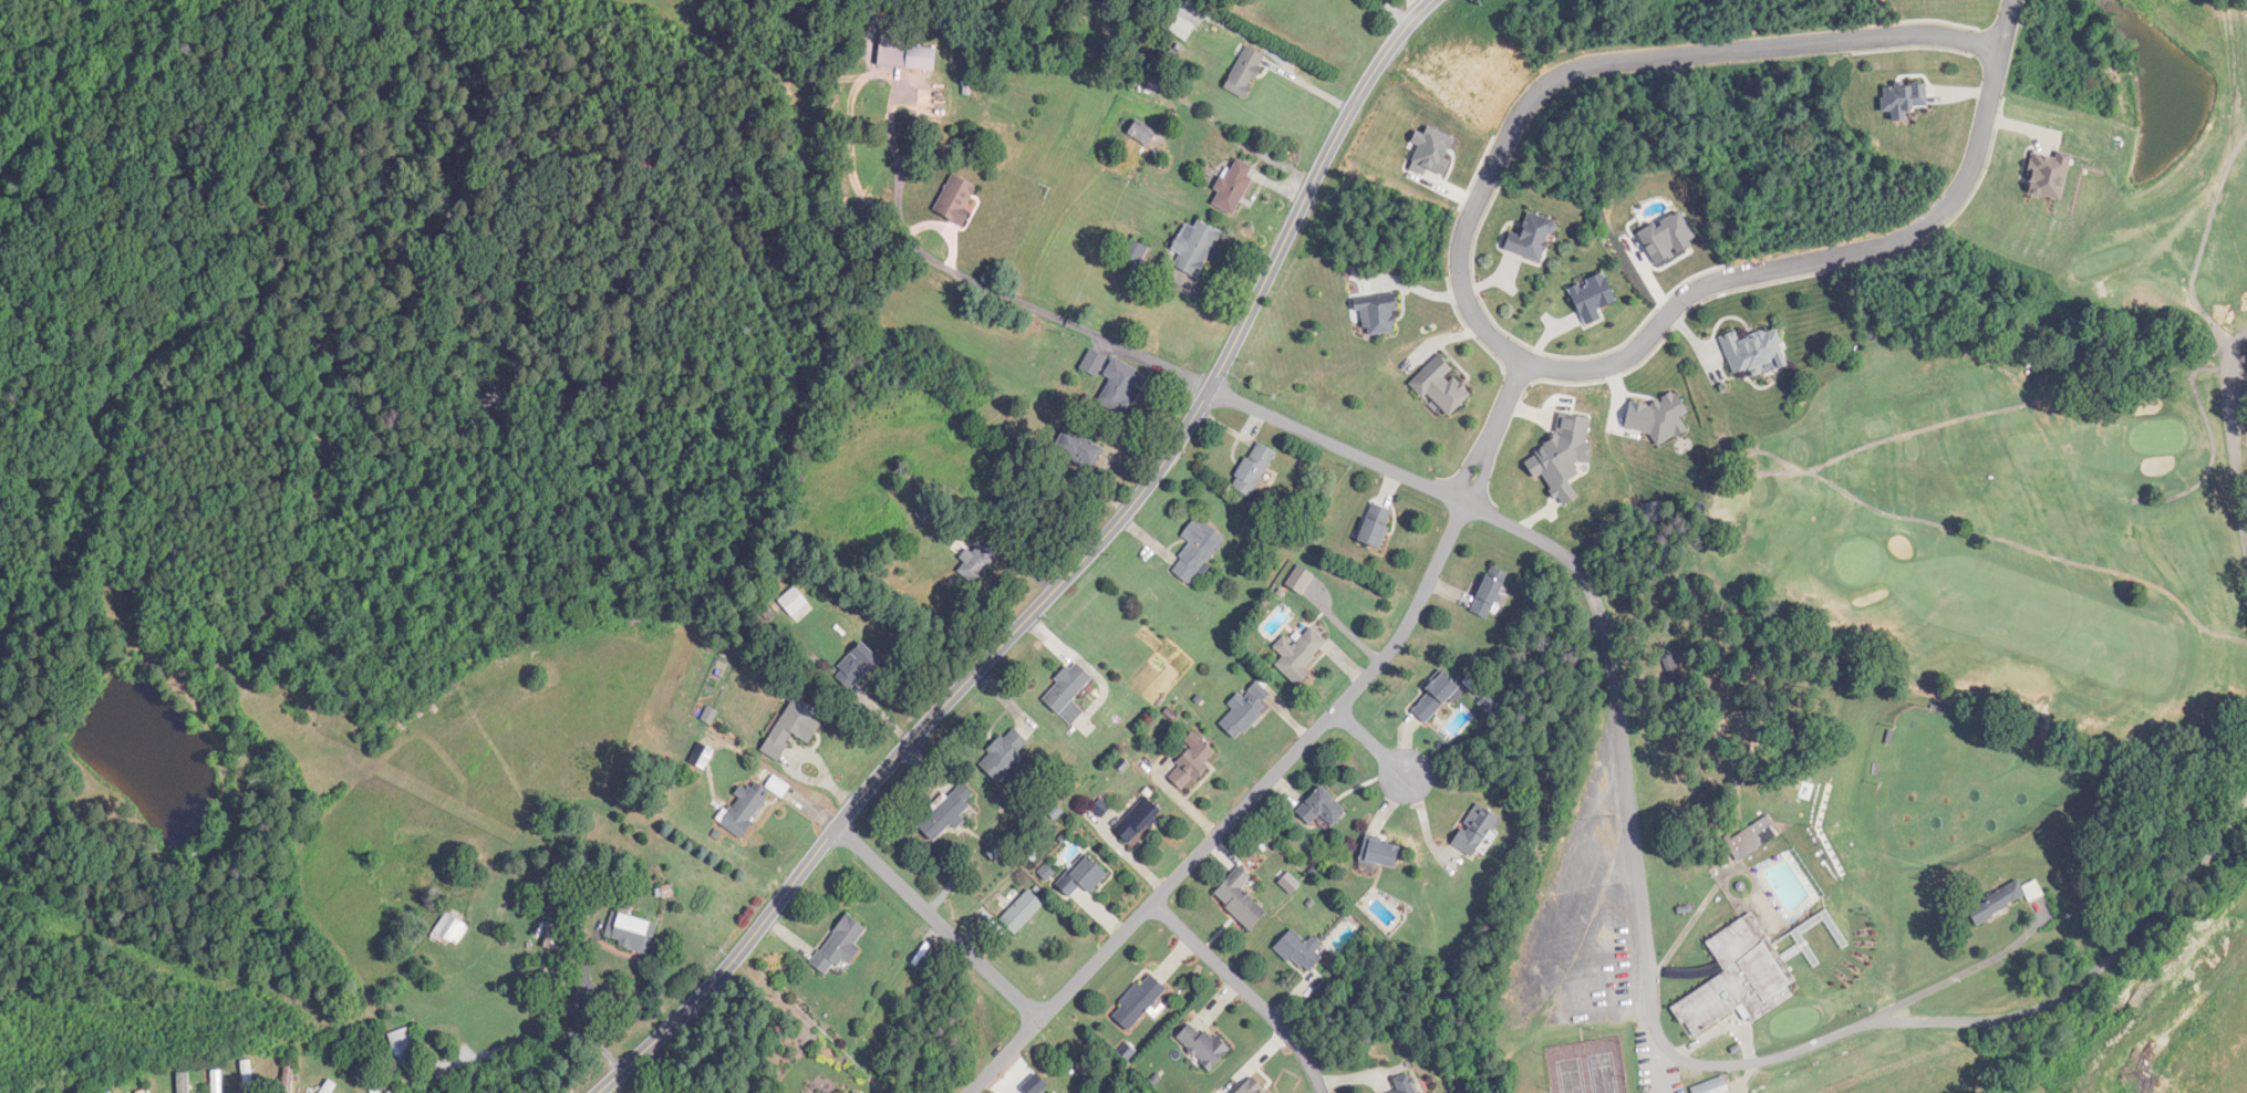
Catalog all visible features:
road: (1415, 7)
road: (1397, 15)
building: (922, 59)
building: (1246, 72)
road: (1605, 73)
building: (1904, 98)
building: (1142, 134)
building: (1234, 186)
building: (957, 199)
building: (1534, 237)
building: (1195, 247)
road: (1834, 268)
building: (1378, 313)
building: (1754, 351)
building: (1094, 363)
building: (1120, 387)
road: (1492, 438)
road: (2233, 439)
building: (1079, 449)
building: (1254, 469)
building: (1377, 525)
building: (1198, 550)
building: (981, 560)
road: (1063, 580)
building: (1490, 592)
building: (1299, 655)
building: (856, 666)
building: (1067, 687)
building: (1436, 697)
road: (1617, 708)
building: (1246, 710)
building: (795, 727)
road: (1370, 742)
building: (1004, 754)
building: (702, 756)
building: (1192, 766)
building: (778, 785)
building: (1322, 808)
building: (745, 809)
road: (1239, 811)
building: (948, 813)
building: (1138, 820)
building: (1477, 830)
building: (1752, 837)
building: (1381, 852)
building: (1086, 877)
building: (1240, 899)
building: (2005, 901)
building: (1023, 912)
road: (939, 923)
building: (452, 930)
building: (631, 931)
building: (840, 946)
building: (1301, 951)
road: (1955, 976)
building: (1738, 977)
road: (1245, 991)
building: (1139, 1002)
road: (541, 1040)
building: (1203, 1045)
building: (405, 1049)
building: (248, 1076)
building: (288, 1078)
building: (371, 1079)
building: (218, 1081)
building: (1405, 1084)
building: (1713, 1086)
building: (329, 1087)
building: (1252, 1087)
building: (107, 1091)
building: (827, 1092)
building: (857, 1092)

